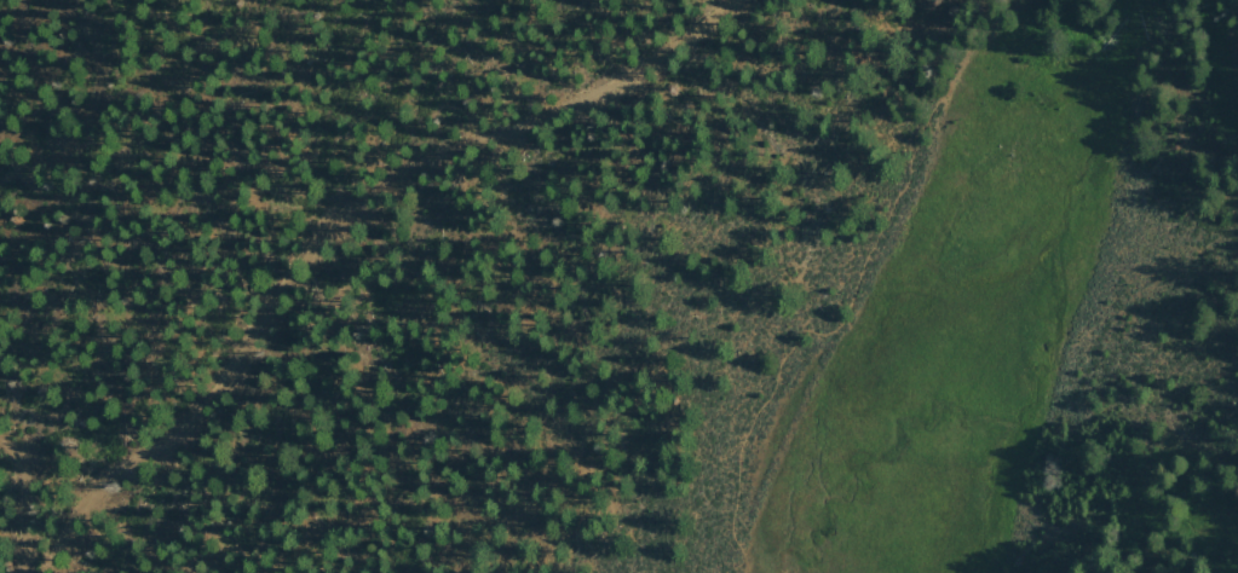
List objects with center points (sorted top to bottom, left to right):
road: (70, 157)
road: (853, 290)
road: (29, 499)

